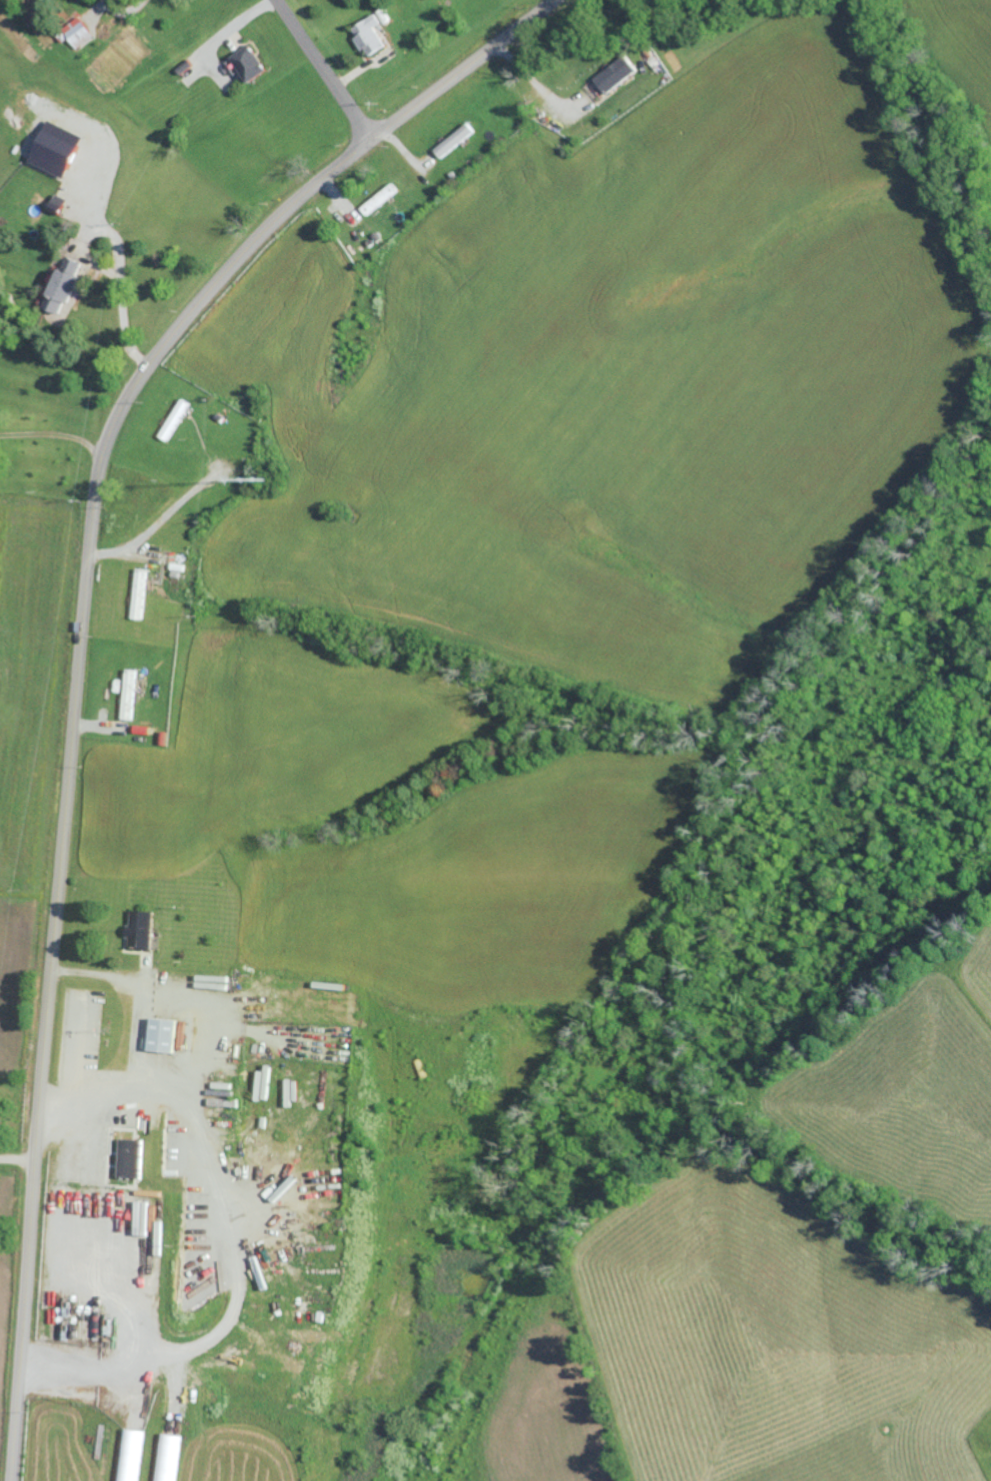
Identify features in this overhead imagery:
road: (128, 11)
building: (382, 16)
building: (75, 31)
road: (232, 33)
building: (368, 34)
building: (247, 63)
road: (325, 73)
building: (614, 73)
road: (540, 87)
building: (452, 140)
building: (52, 148)
building: (378, 199)
road: (121, 263)
building: (60, 286)
building: (173, 420)
road: (53, 434)
road: (158, 521)
road: (76, 640)
building: (127, 694)
building: (139, 930)
building: (161, 1035)
road: (138, 1043)
road: (17, 1157)
building: (130, 1158)
building: (135, 1205)
building: (131, 1455)
building: (168, 1457)

